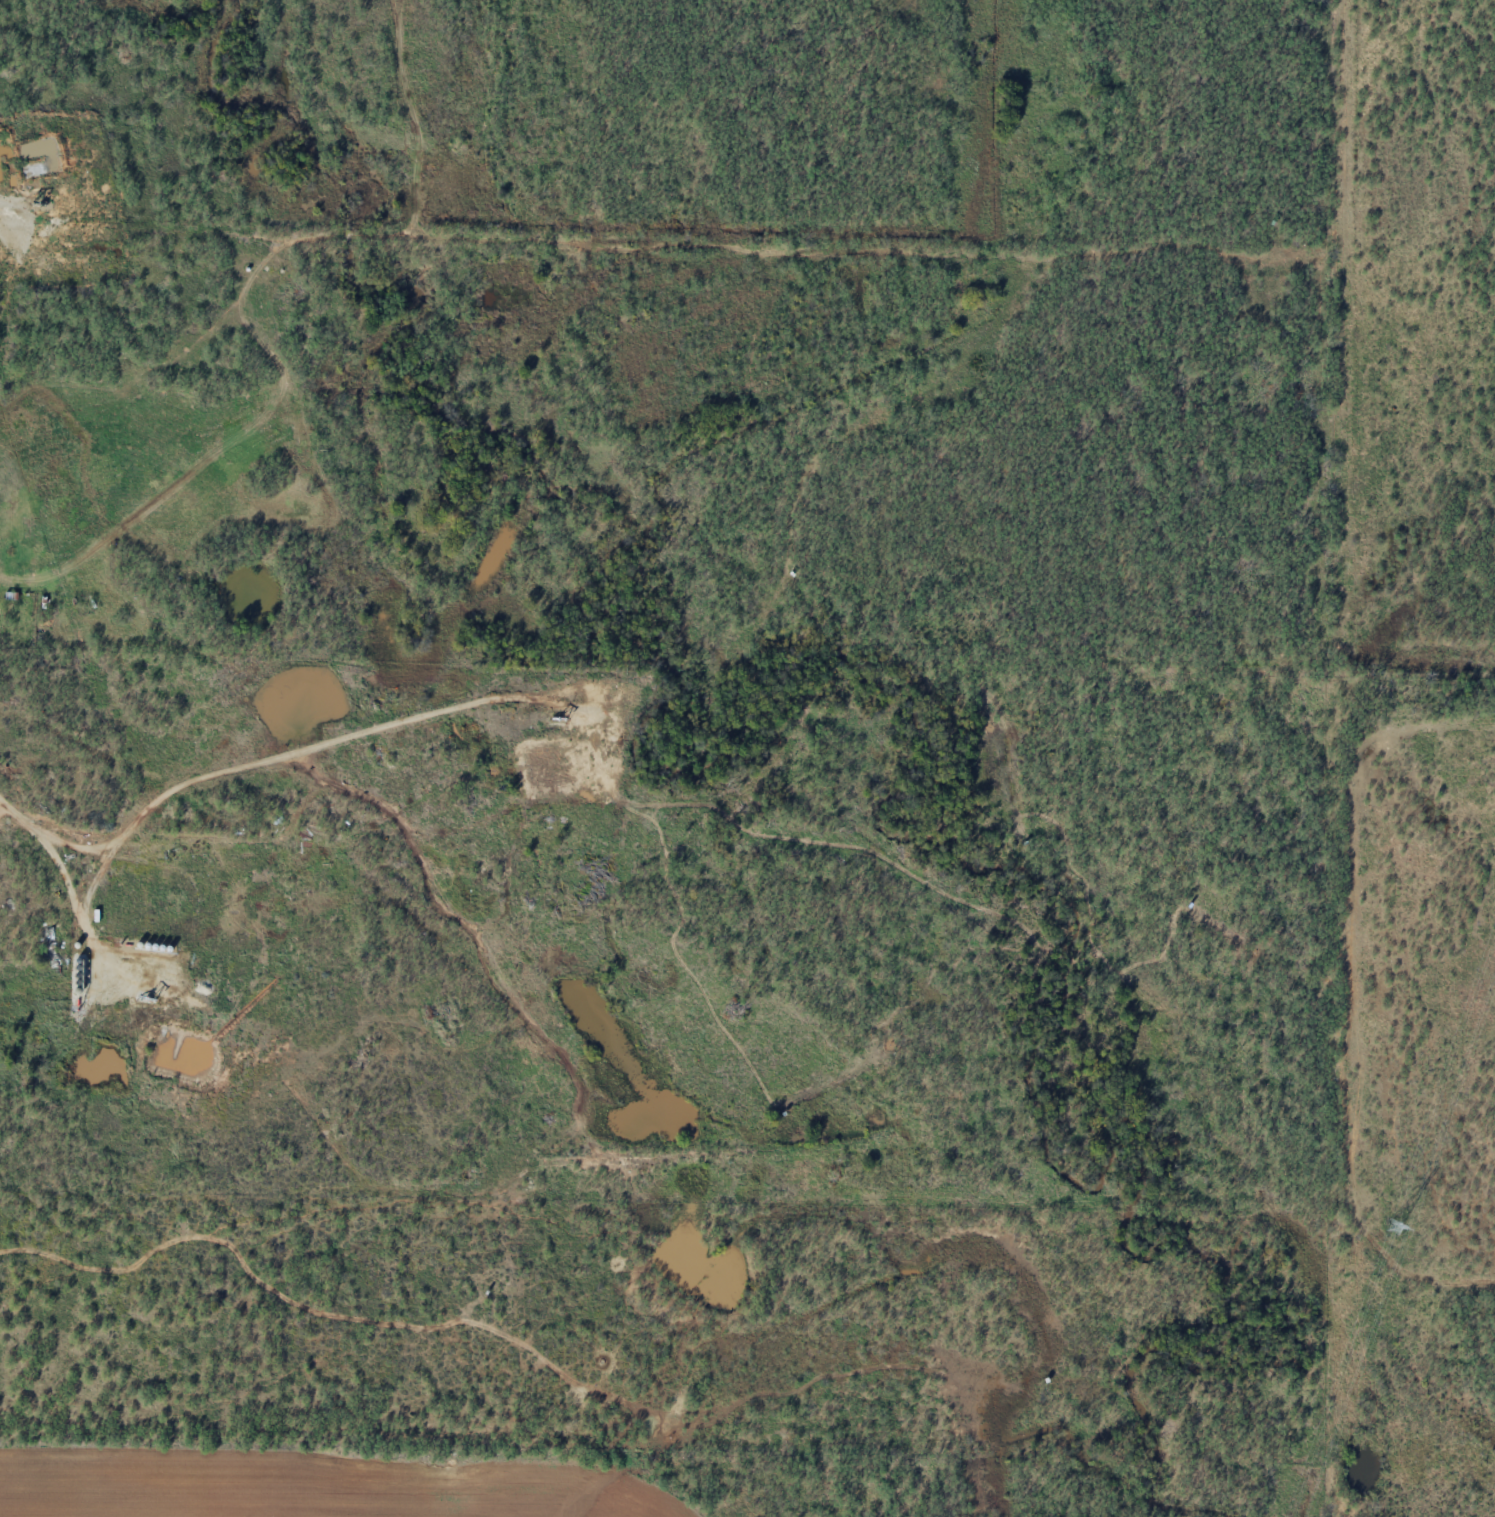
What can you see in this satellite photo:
building: (51, 947)

